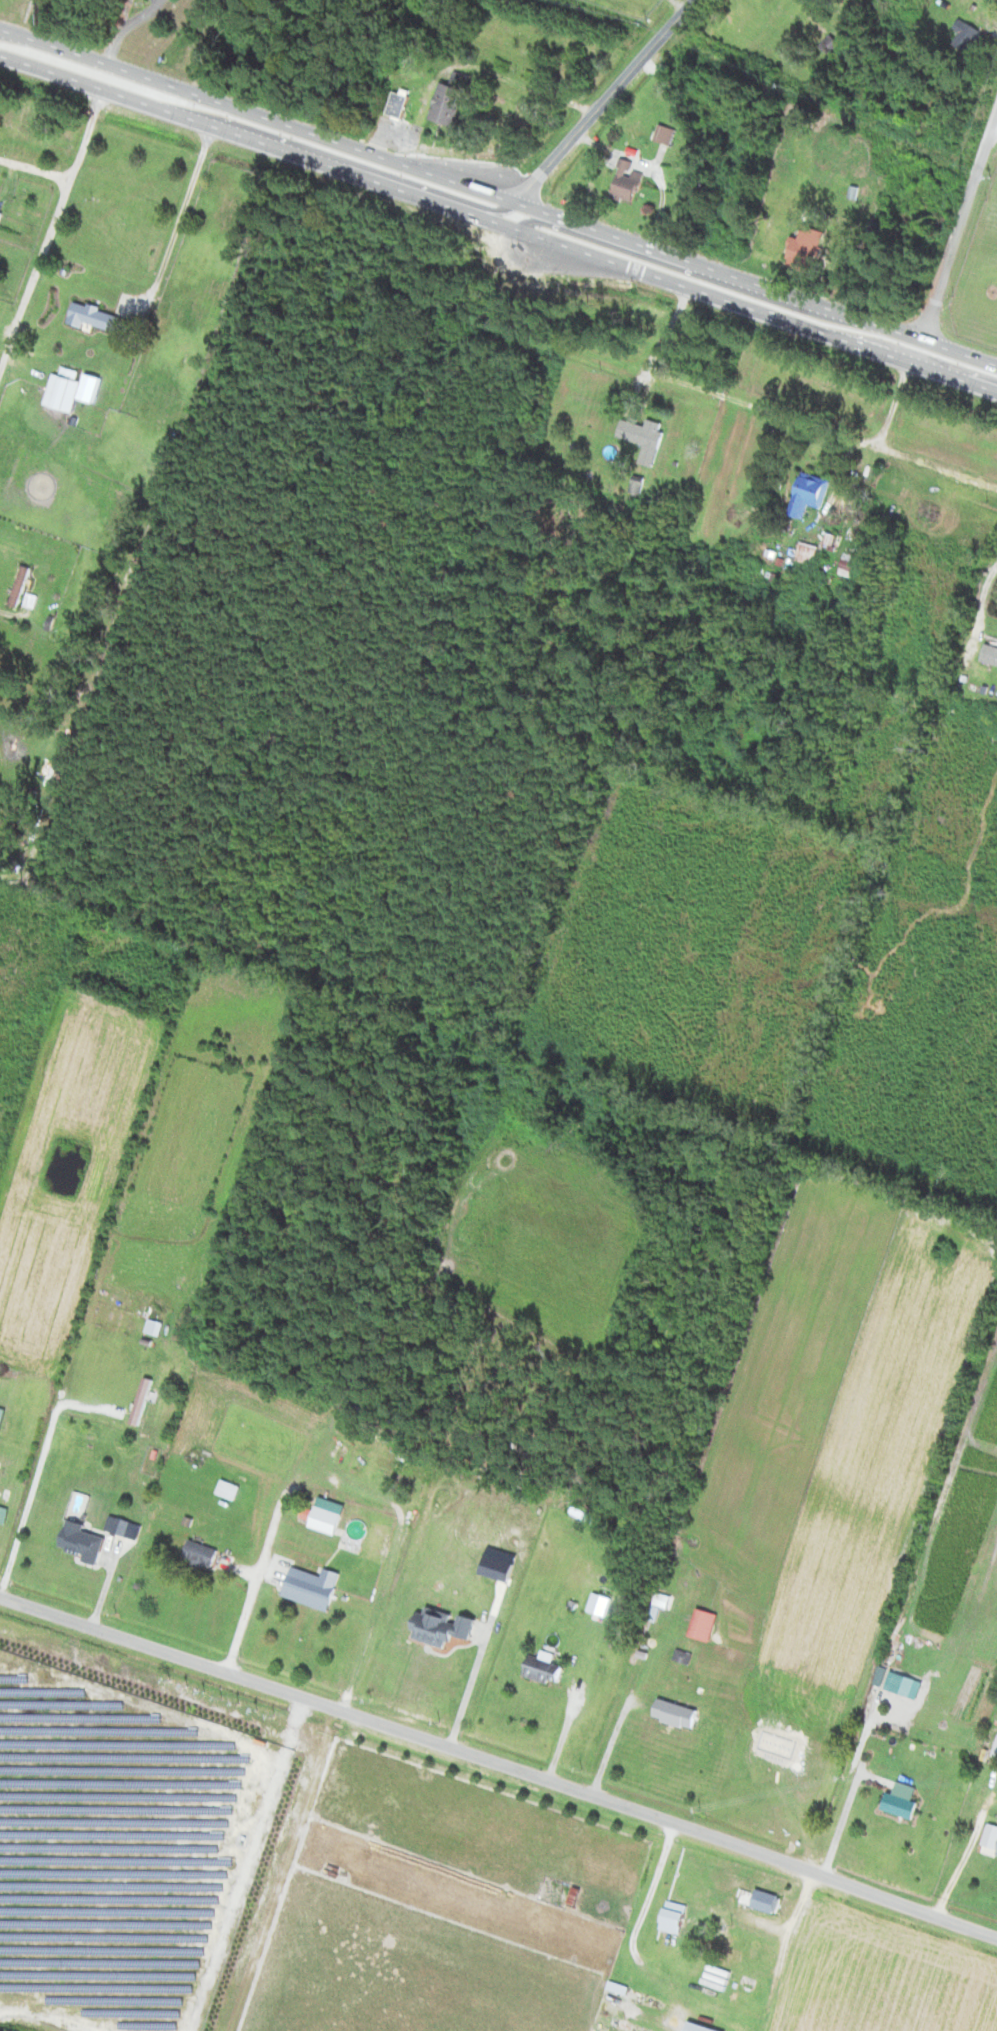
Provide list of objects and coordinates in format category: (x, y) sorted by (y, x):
building: (970, 36)
road: (610, 102)
building: (449, 104)
building: (399, 105)
building: (666, 134)
road: (36, 169)
building: (629, 181)
road: (498, 195)
building: (1, 216)
road: (498, 222)
road: (51, 231)
road: (956, 244)
building: (808, 249)
building: (99, 319)
building: (65, 389)
building: (646, 436)
road: (942, 467)
building: (812, 493)
building: (809, 552)
building: (849, 564)
building: (22, 586)
building: (991, 654)
building: (156, 1327)
building: (168, 1416)
building: (2, 1417)
building: (231, 1489)
building: (4, 1515)
building: (329, 1518)
building: (84, 1541)
building: (203, 1552)
building: (314, 1587)
building: (664, 1600)
building: (705, 1624)
building: (684, 1655)
building: (546, 1670)
building: (678, 1713)
road: (612, 1747)
road: (498, 1762)
building: (902, 1805)
building: (993, 1820)
building: (768, 1901)
building: (676, 1917)

